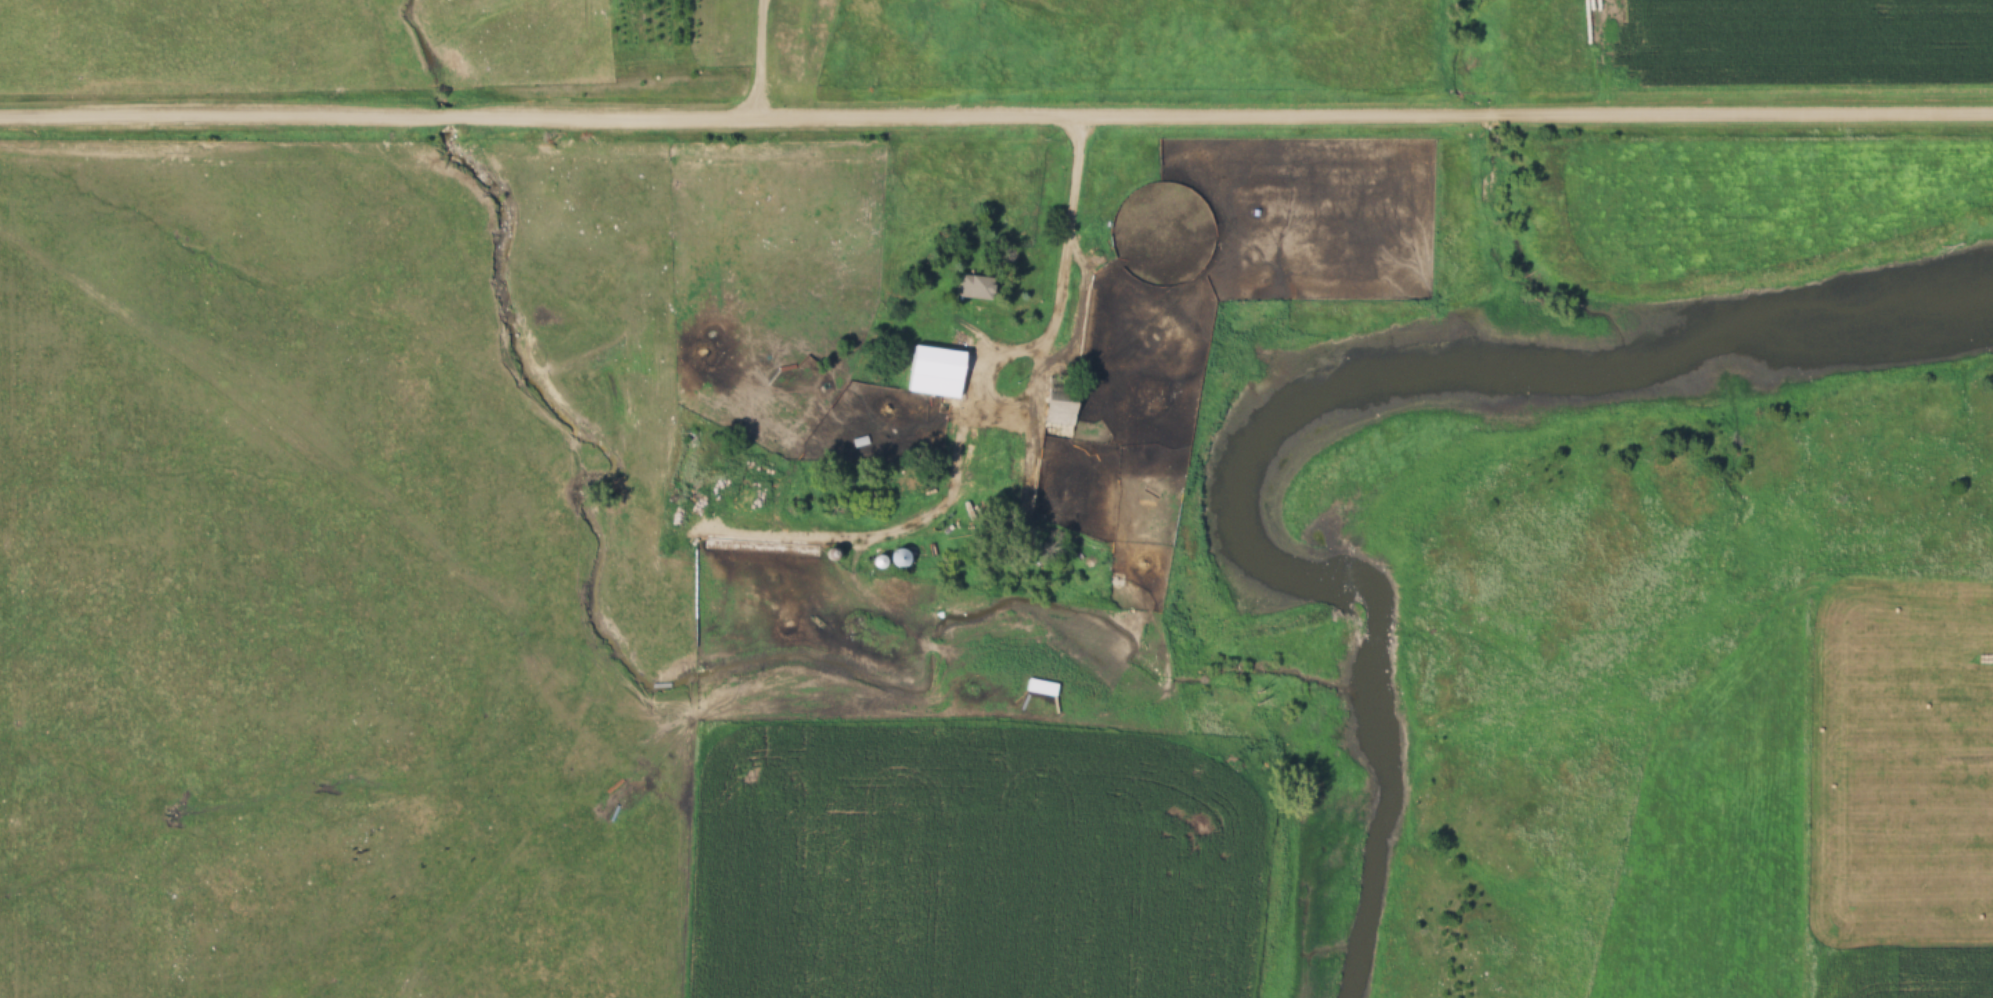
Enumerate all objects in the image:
road: (996, 115)
building: (983, 287)
road: (1059, 327)

